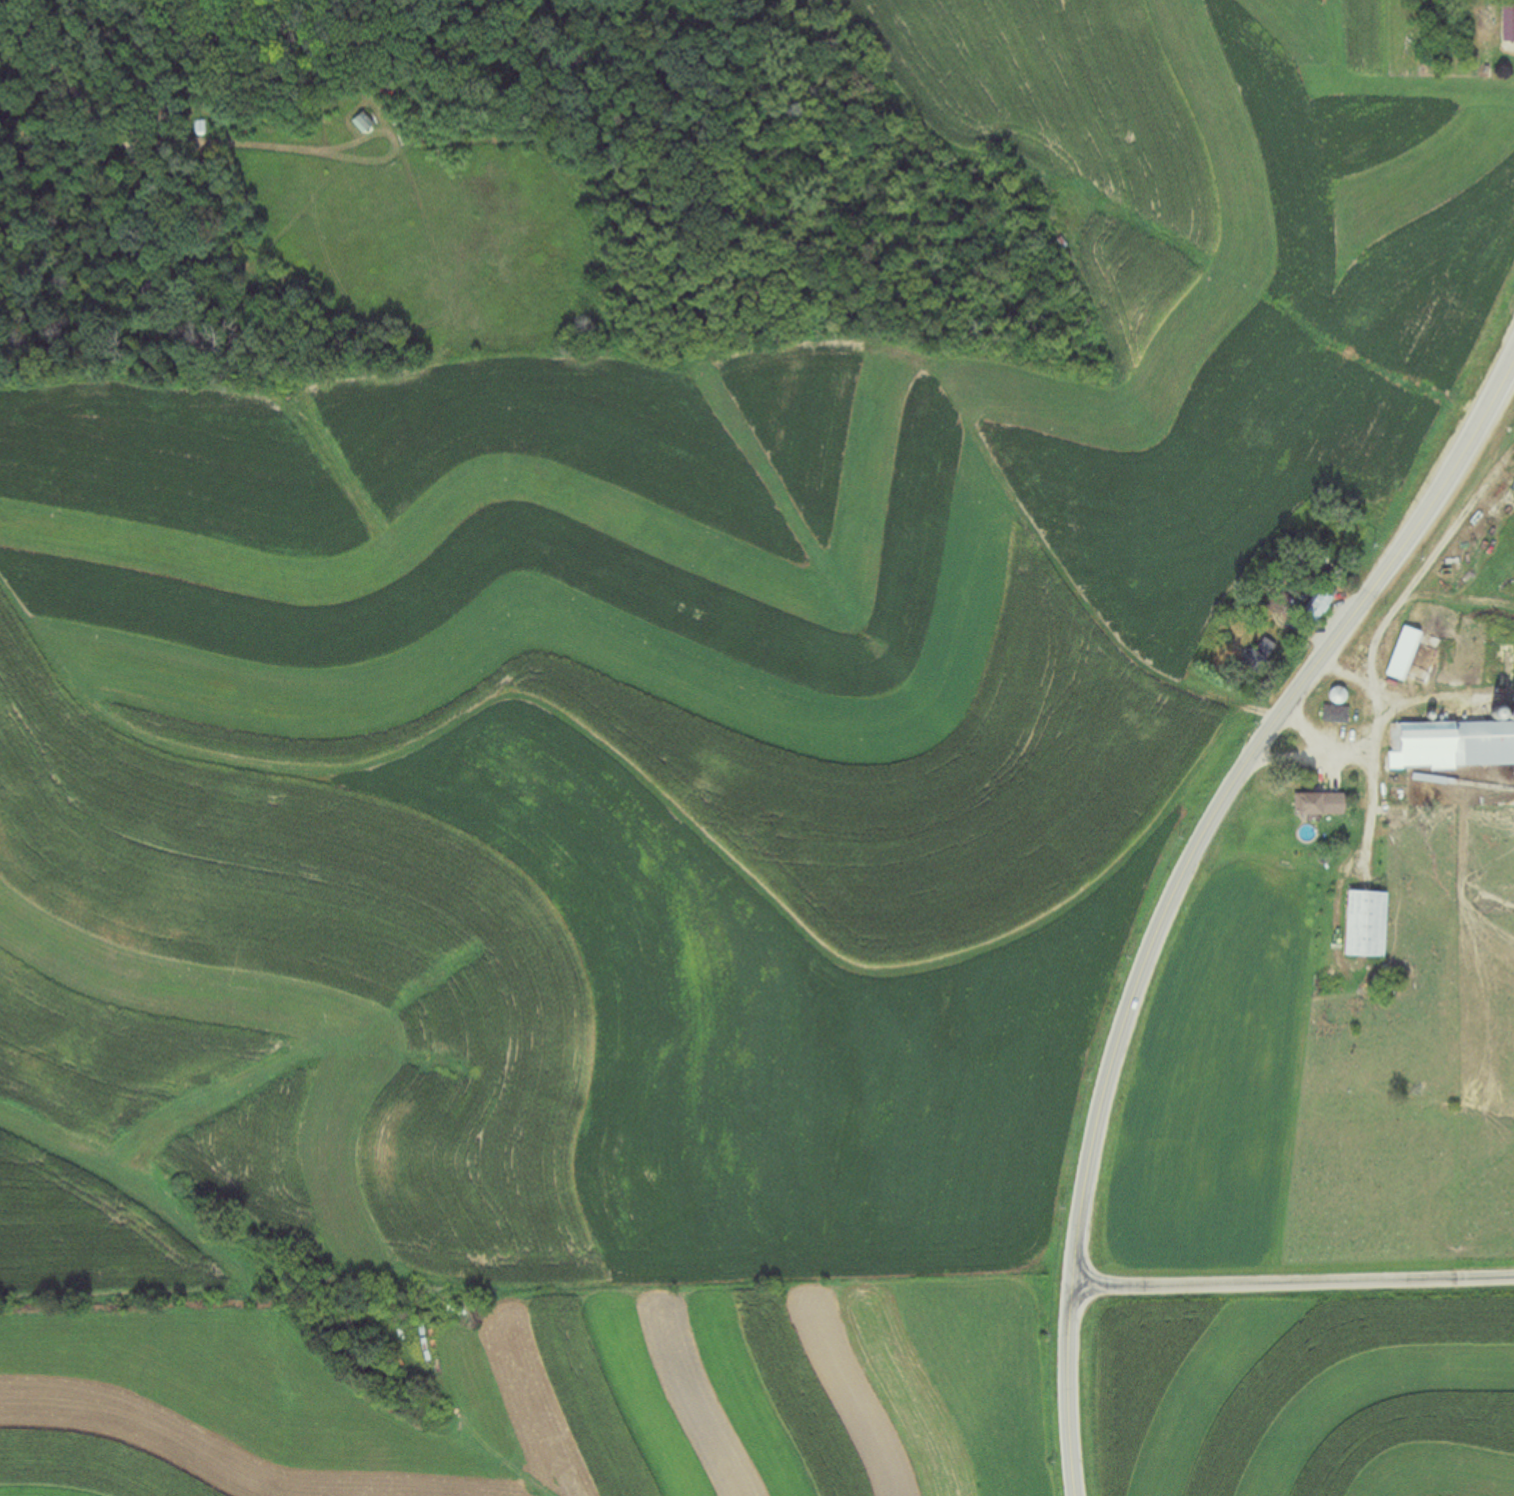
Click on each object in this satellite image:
building: (1506, 28)
building: (358, 122)
building: (201, 127)
building: (1315, 606)
building: (1255, 655)
building: (1400, 655)
building: (1332, 715)
building: (1455, 743)
building: (1314, 805)
road: (1177, 885)
building: (1360, 925)
road: (1293, 1280)

